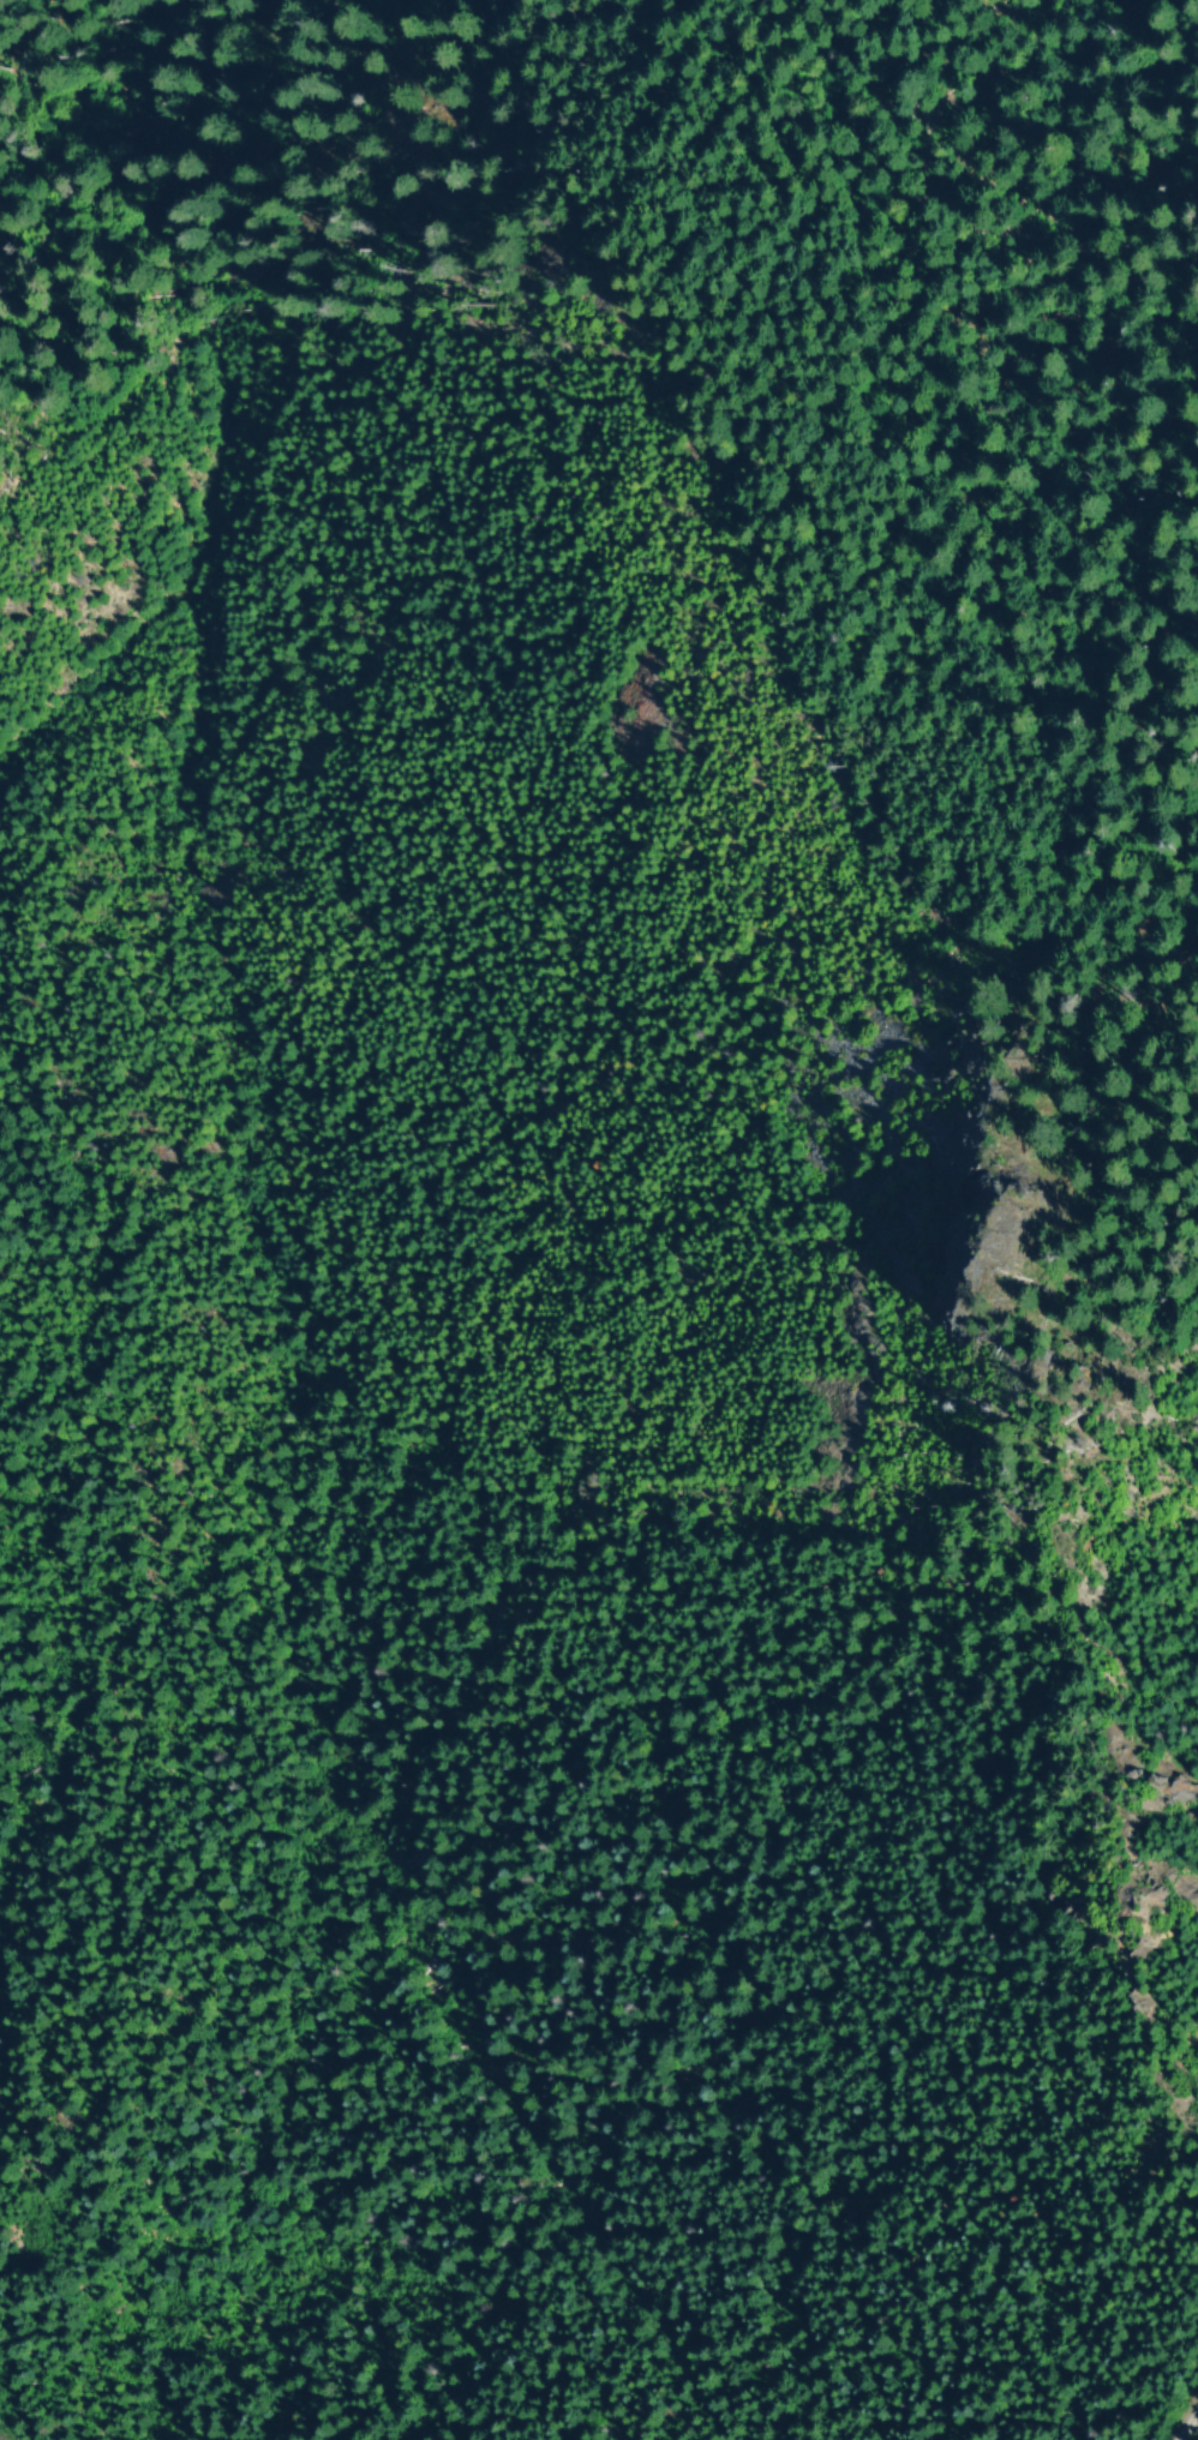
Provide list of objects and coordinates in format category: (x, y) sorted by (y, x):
road: (1188, 2427)

